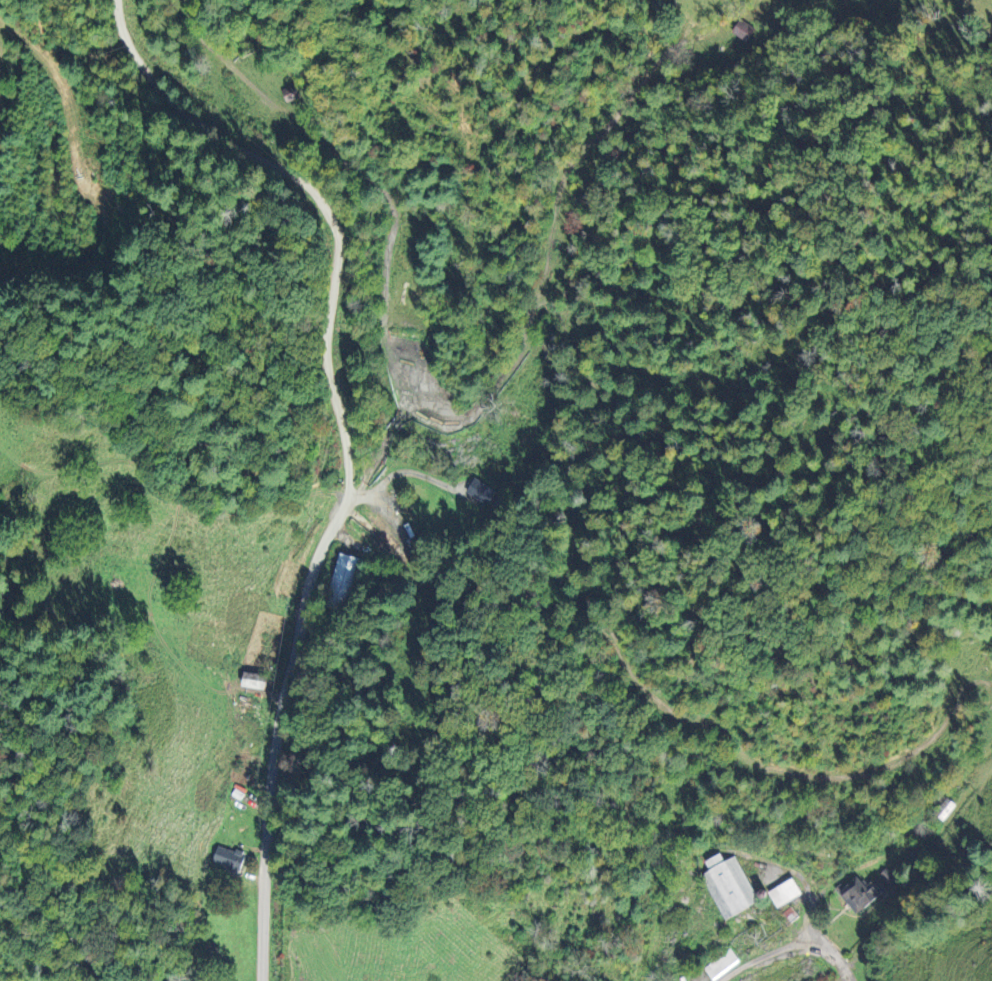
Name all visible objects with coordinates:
building: (745, 30)
road: (347, 443)
building: (345, 582)
building: (230, 858)
building: (732, 888)
building: (789, 893)
building: (863, 894)
road: (790, 946)
road: (3, 975)

